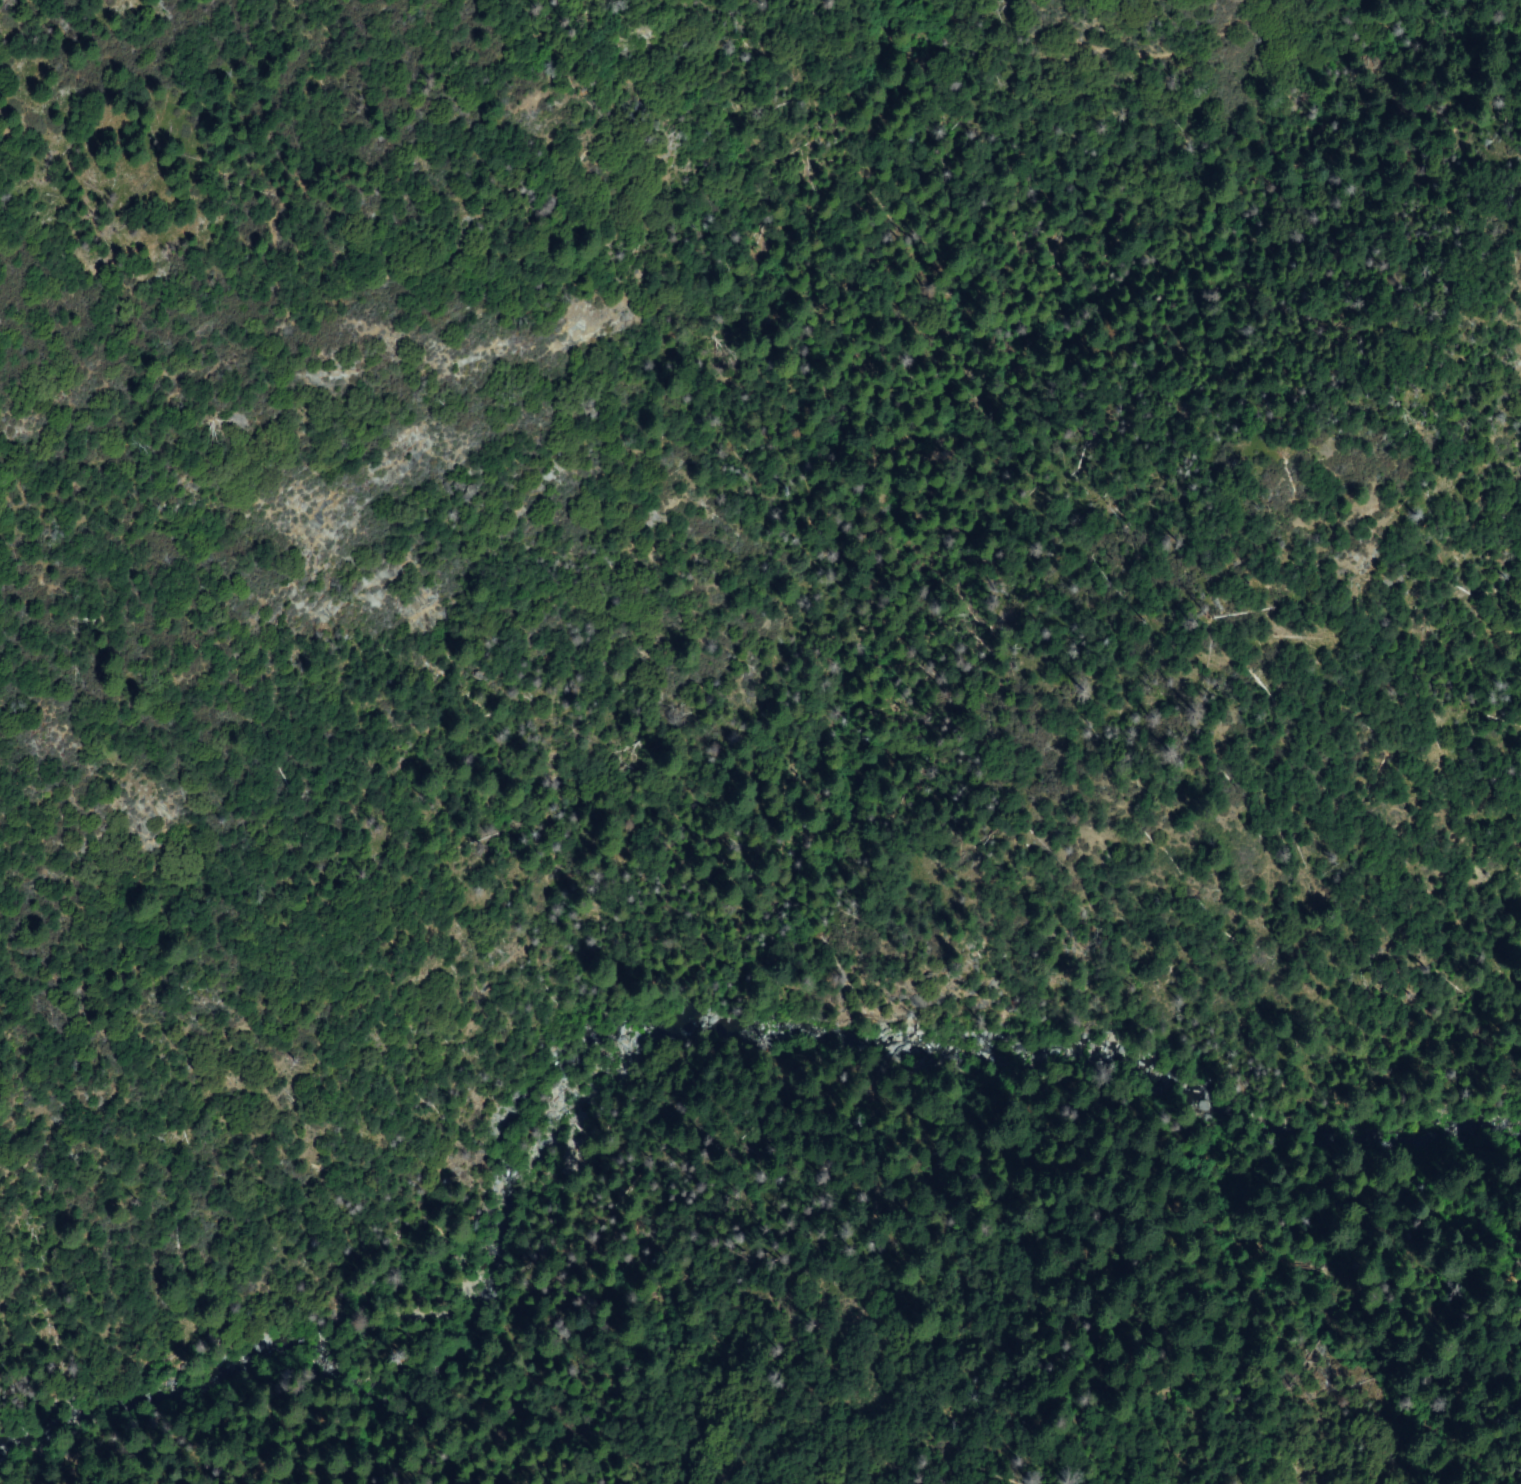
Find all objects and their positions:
road: (1158, 39)
river: (686, 1031)

